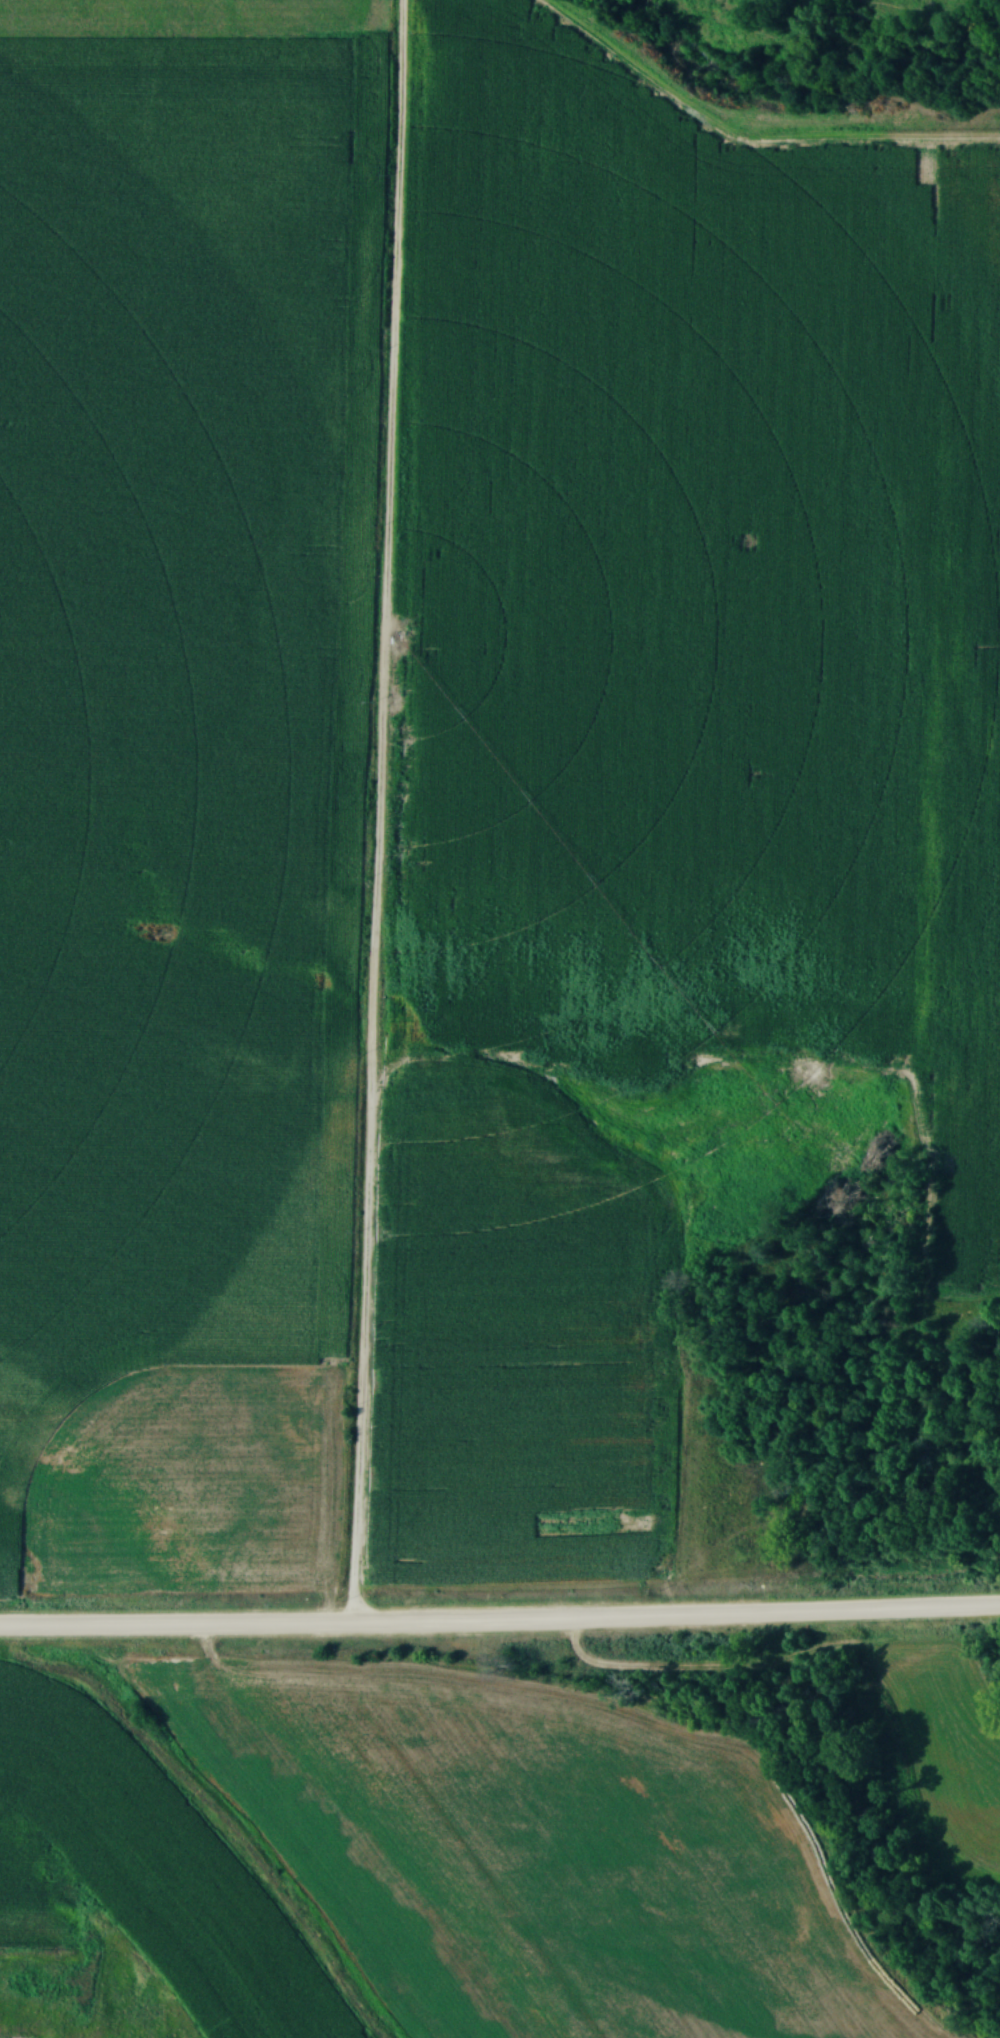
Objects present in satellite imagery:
river: (823, 64)
river: (926, 1441)
river: (987, 1560)
river: (996, 1606)
road: (500, 1620)
river: (999, 1624)

